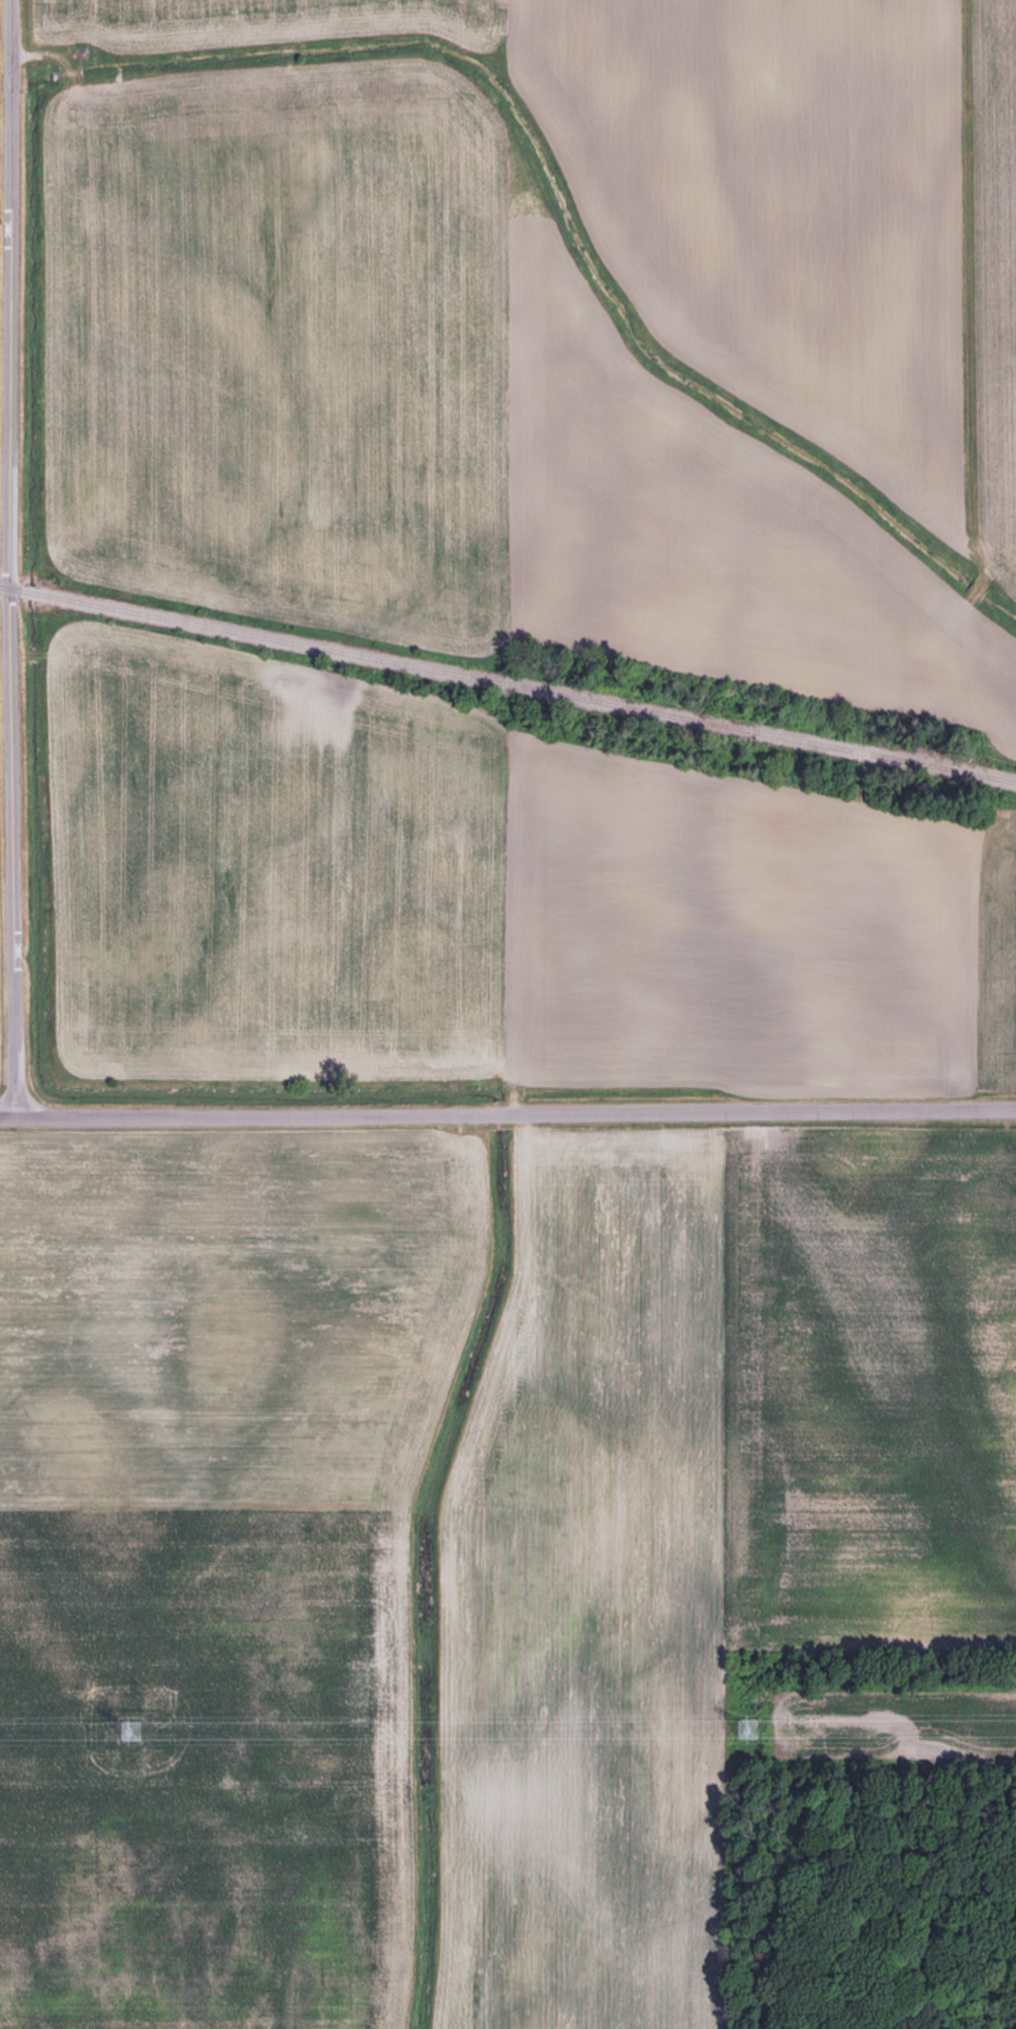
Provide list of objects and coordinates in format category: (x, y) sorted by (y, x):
road: (4, 558)
railway: (507, 684)
road: (507, 1113)
power tower: (749, 1729)
power tower: (128, 1735)

